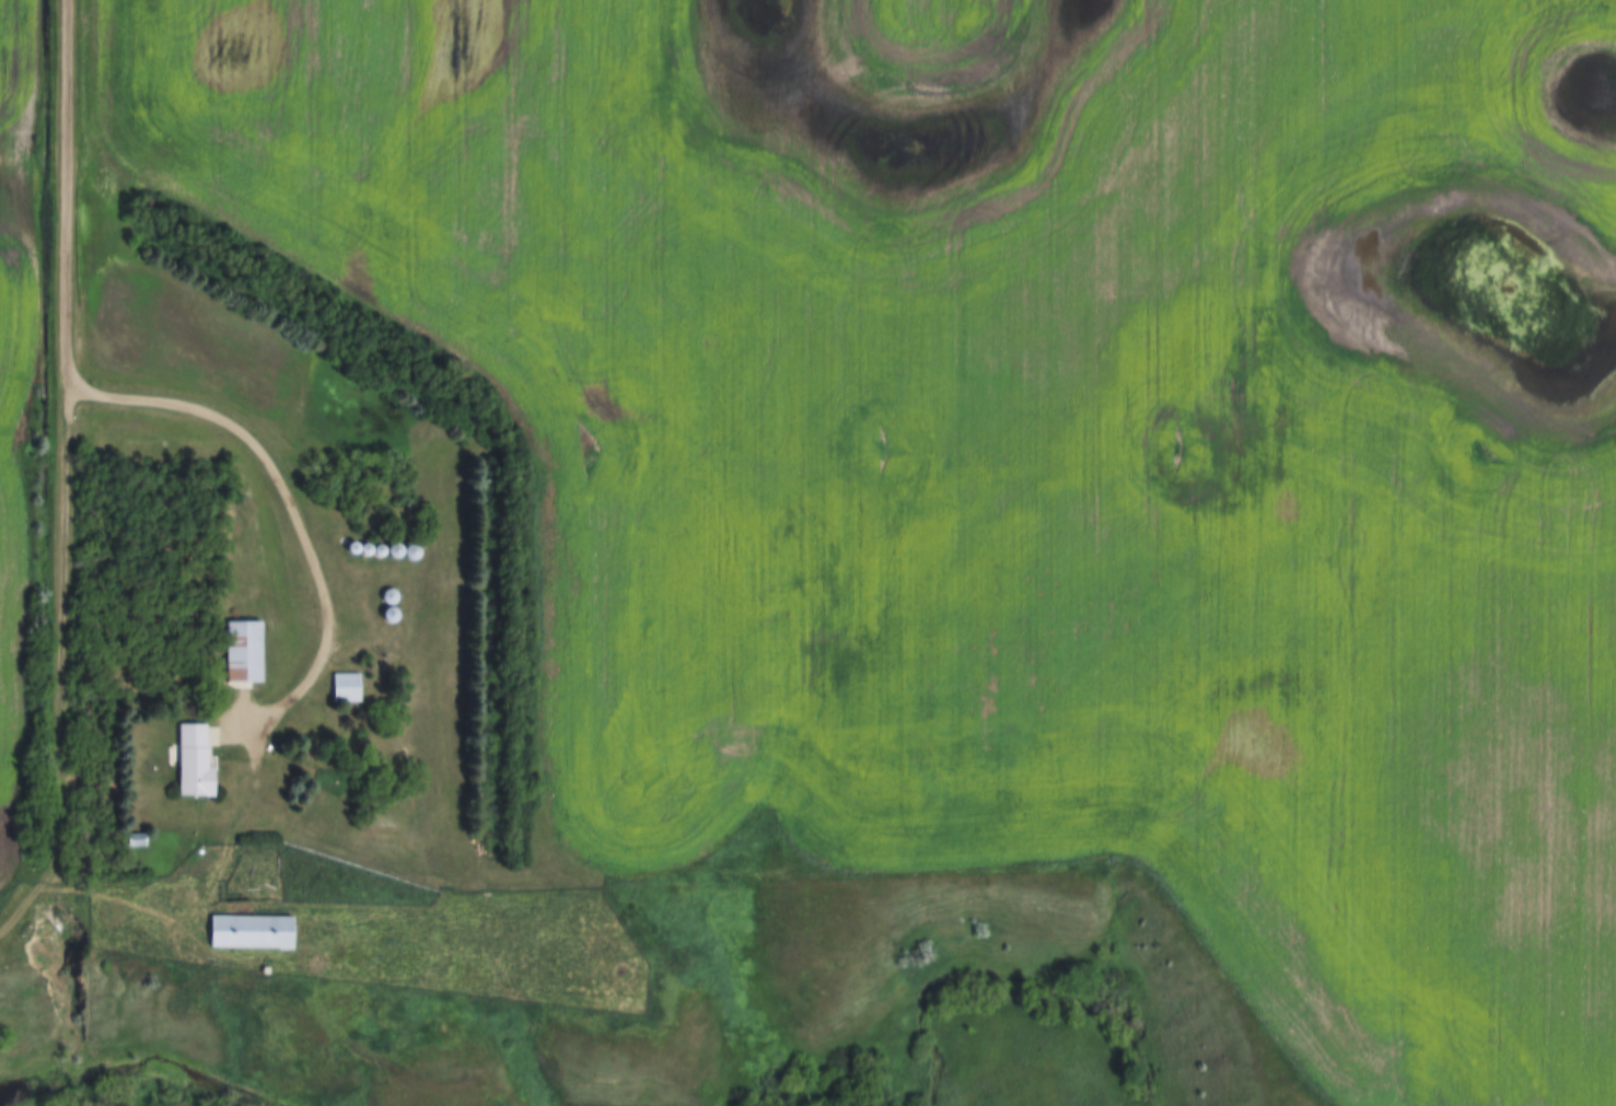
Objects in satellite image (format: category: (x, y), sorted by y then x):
road: (70, 189)
road: (295, 511)
building: (404, 552)
building: (244, 653)
road: (71, 678)
building: (346, 690)
building: (195, 762)
building: (252, 934)
quarry: (38, 942)

